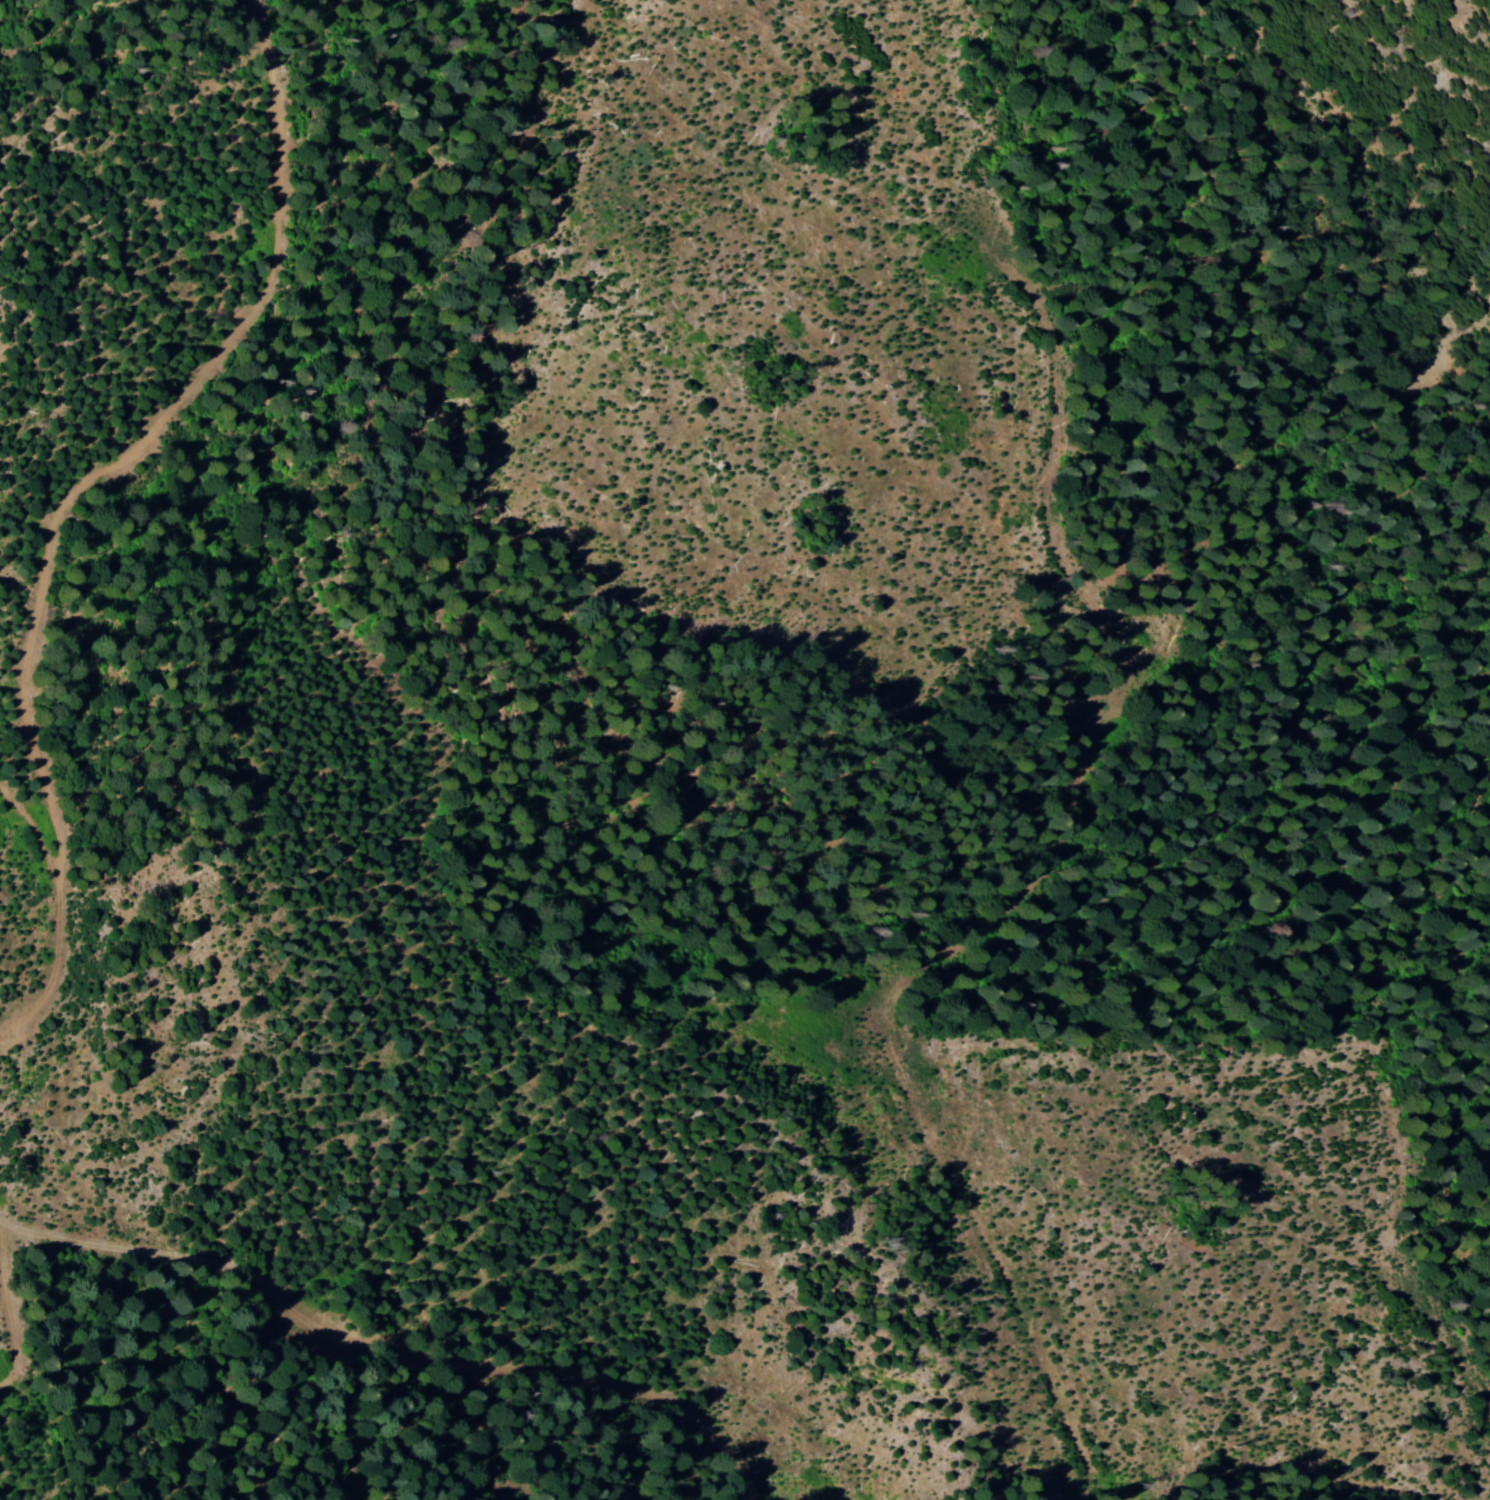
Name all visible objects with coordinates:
road: (172, 416)
road: (37, 942)
road: (361, 1376)

